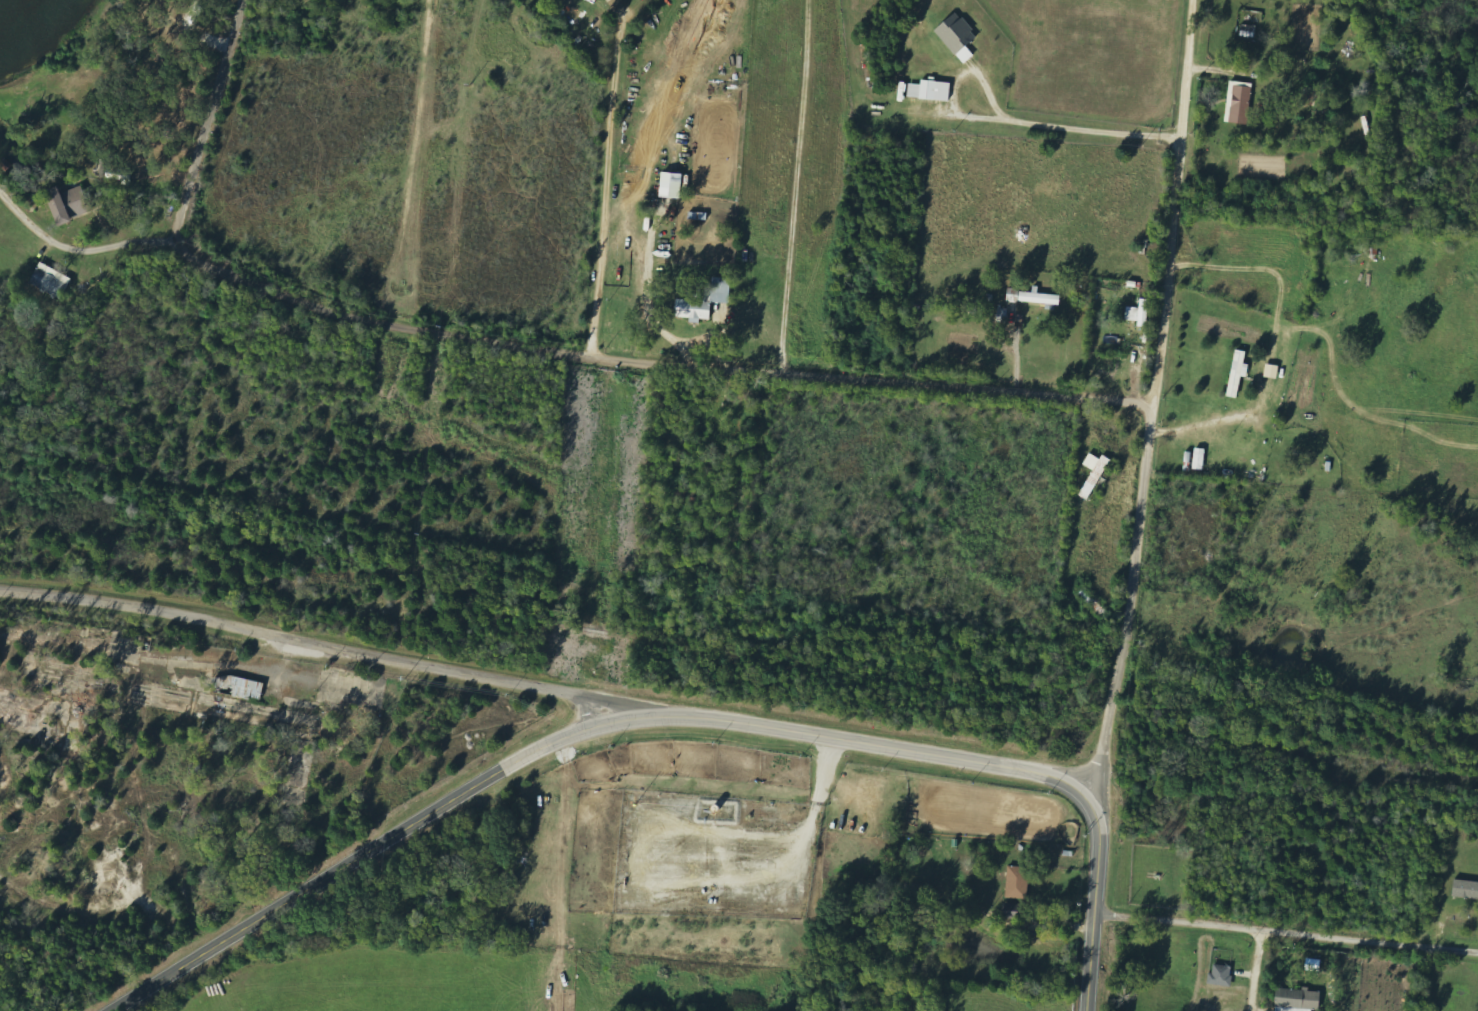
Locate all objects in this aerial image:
road: (1336, 11)
building: (958, 34)
building: (931, 91)
building: (1240, 103)
building: (117, 174)
road: (188, 178)
building: (673, 186)
road: (795, 186)
road: (603, 194)
building: (69, 204)
road: (72, 250)
building: (51, 281)
building: (1014, 296)
building: (1040, 299)
building: (705, 301)
building: (1140, 314)
road: (708, 367)
building: (1239, 374)
road: (1151, 401)
building: (1095, 474)
road: (323, 638)
railway: (739, 650)
building: (240, 687)
road: (568, 737)
building: (1019, 882)
building: (1466, 889)
road: (1093, 901)
road: (1285, 933)
road: (1254, 971)
building: (1222, 976)
building: (1299, 1000)

